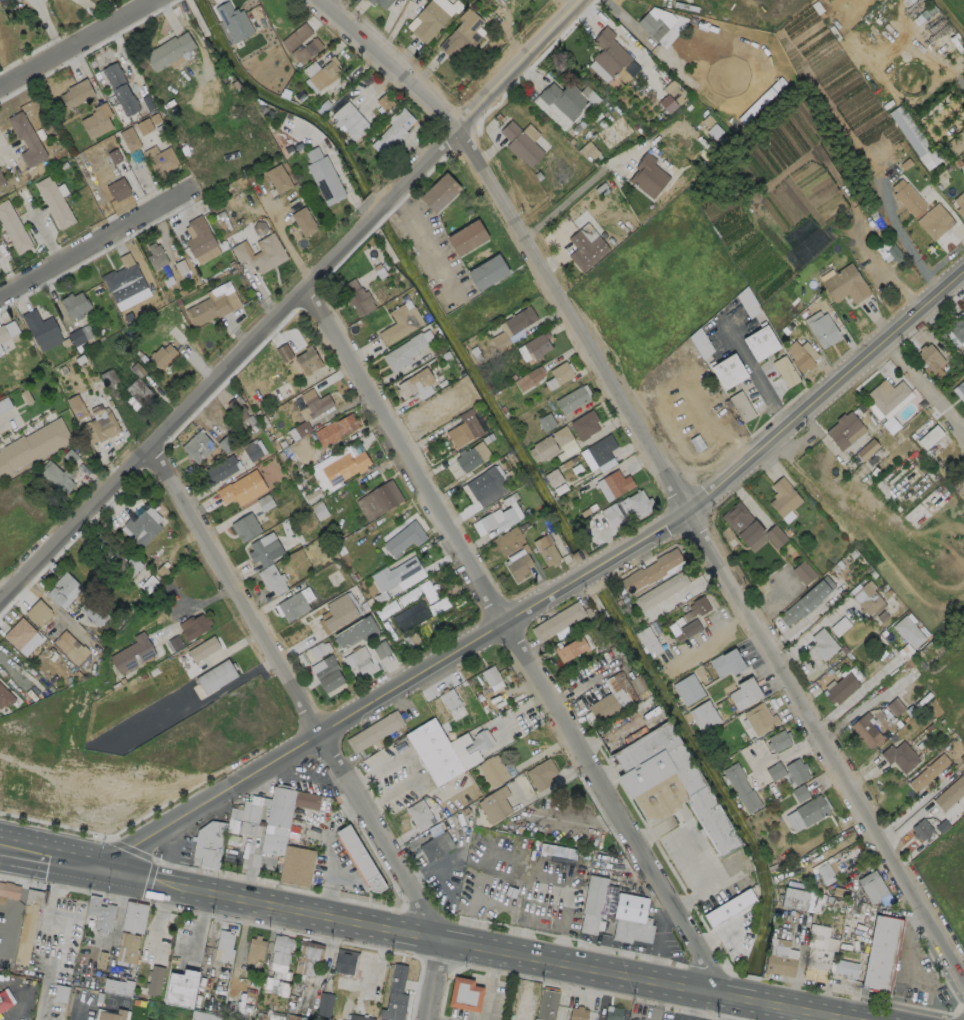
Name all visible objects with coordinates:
building: (380, 3)
building: (432, 17)
building: (233, 20)
building: (652, 26)
building: (295, 36)
building: (462, 38)
road: (79, 42)
building: (169, 51)
building: (305, 51)
building: (609, 53)
building: (325, 74)
building: (120, 89)
building: (76, 94)
building: (673, 95)
building: (568, 98)
building: (385, 102)
building: (350, 120)
building: (96, 121)
building: (144, 126)
building: (393, 130)
building: (914, 137)
building: (129, 138)
building: (26, 140)
building: (956, 142)
building: (520, 144)
building: (114, 156)
building: (162, 163)
building: (653, 172)
building: (324, 177)
building: (1, 179)
building: (278, 179)
building: (117, 189)
road: (576, 191)
building: (440, 193)
building: (908, 196)
building: (54, 202)
building: (960, 204)
building: (934, 221)
building: (303, 222)
building: (13, 228)
building: (198, 237)
road: (286, 238)
building: (467, 239)
road: (47, 240)
road: (423, 240)
road: (92, 250)
building: (585, 250)
building: (888, 251)
building: (260, 253)
building: (156, 256)
building: (487, 273)
building: (123, 279)
building: (845, 285)
building: (356, 297)
road: (289, 301)
building: (74, 305)
building: (213, 305)
building: (519, 320)
building: (400, 324)
building: (39, 327)
building: (822, 329)
building: (957, 330)
building: (3, 334)
building: (80, 335)
building: (761, 343)
building: (534, 347)
building: (1, 350)
building: (406, 350)
building: (283, 352)
building: (162, 356)
building: (929, 357)
building: (799, 358)
building: (308, 360)
building: (786, 371)
building: (729, 372)
building: (559, 375)
road: (756, 375)
building: (109, 378)
building: (529, 379)
building: (138, 384)
building: (413, 385)
building: (961, 387)
building: (886, 395)
building: (571, 400)
building: (315, 402)
building: (77, 406)
building: (742, 406)
building: (236, 408)
road: (5, 419)
building: (547, 422)
building: (103, 424)
building: (584, 425)
building: (301, 429)
building: (336, 430)
building: (463, 430)
building: (844, 430)
building: (930, 436)
building: (549, 444)
building: (32, 446)
building: (197, 447)
building: (569, 447)
building: (867, 449)
building: (254, 450)
building: (601, 450)
building: (471, 457)
building: (315, 465)
building: (344, 467)
building: (220, 469)
road: (661, 470)
building: (56, 477)
building: (553, 477)
building: (484, 483)
building: (616, 483)
building: (242, 488)
building: (783, 498)
building: (378, 501)
building: (639, 504)
building: (612, 514)
building: (510, 519)
building: (245, 528)
building: (750, 528)
building: (142, 529)
building: (405, 537)
building: (546, 550)
building: (264, 551)
building: (114, 558)
building: (519, 567)
building: (804, 572)
building: (652, 573)
building: (401, 574)
building: (271, 580)
building: (63, 590)
building: (660, 591)
building: (867, 598)
road: (552, 600)
building: (807, 601)
building: (295, 604)
road: (54, 607)
building: (697, 608)
building: (37, 612)
building: (339, 612)
building: (410, 616)
building: (558, 621)
building: (194, 626)
building: (687, 629)
building: (908, 631)
building: (19, 633)
building: (355, 633)
road: (716, 633)
road: (513, 636)
building: (649, 642)
building: (823, 644)
building: (570, 648)
building: (70, 649)
building: (203, 649)
building: (381, 649)
building: (135, 653)
building: (357, 659)
building: (727, 663)
building: (327, 674)
building: (217, 676)
building: (490, 676)
building: (841, 688)
building: (688, 689)
building: (744, 693)
road: (297, 695)
building: (6, 696)
road: (852, 697)
building: (449, 699)
building: (608, 705)
building: (704, 716)
building: (760, 719)
building: (865, 731)
building: (373, 732)
building: (779, 740)
building: (444, 751)
building: (958, 751)
road: (786, 753)
building: (900, 757)
road: (414, 764)
building: (492, 771)
building: (775, 771)
building: (797, 771)
building: (928, 773)
building: (542, 774)
building: (670, 784)
building: (741, 787)
building: (800, 792)
building: (950, 794)
building: (540, 804)
building: (494, 805)
building: (812, 811)
building: (269, 812)
building: (419, 815)
building: (921, 830)
building: (552, 841)
building: (208, 844)
building: (435, 847)
road: (329, 848)
building: (557, 850)
road: (50, 852)
building: (359, 859)
traffic signals: (100, 866)
building: (296, 866)
road: (250, 869)
building: (826, 875)
road: (709, 878)
building: (8, 889)
building: (874, 889)
building: (1, 899)
building: (794, 899)
building: (590, 901)
building: (729, 908)
building: (99, 912)
building: (133, 915)
building: (631, 920)
building: (27, 923)
building: (224, 943)
building: (126, 946)
road: (470, 946)
building: (254, 947)
building: (818, 954)
building: (279, 955)
building: (306, 955)
building: (881, 955)
building: (345, 962)
building: (780, 966)
building: (846, 967)
building: (153, 979)
road: (435, 980)
road: (489, 985)
building: (180, 987)
building: (463, 992)
building: (394, 994)
road: (20, 995)
building: (5, 1002)
building: (546, 1003)
building: (325, 1004)
road: (79, 1011)
building: (608, 1012)
building: (577, 1013)
building: (110, 1014)
building: (202, 1015)
building: (296, 1017)
building: (360, 1017)
road: (433, 1019)

